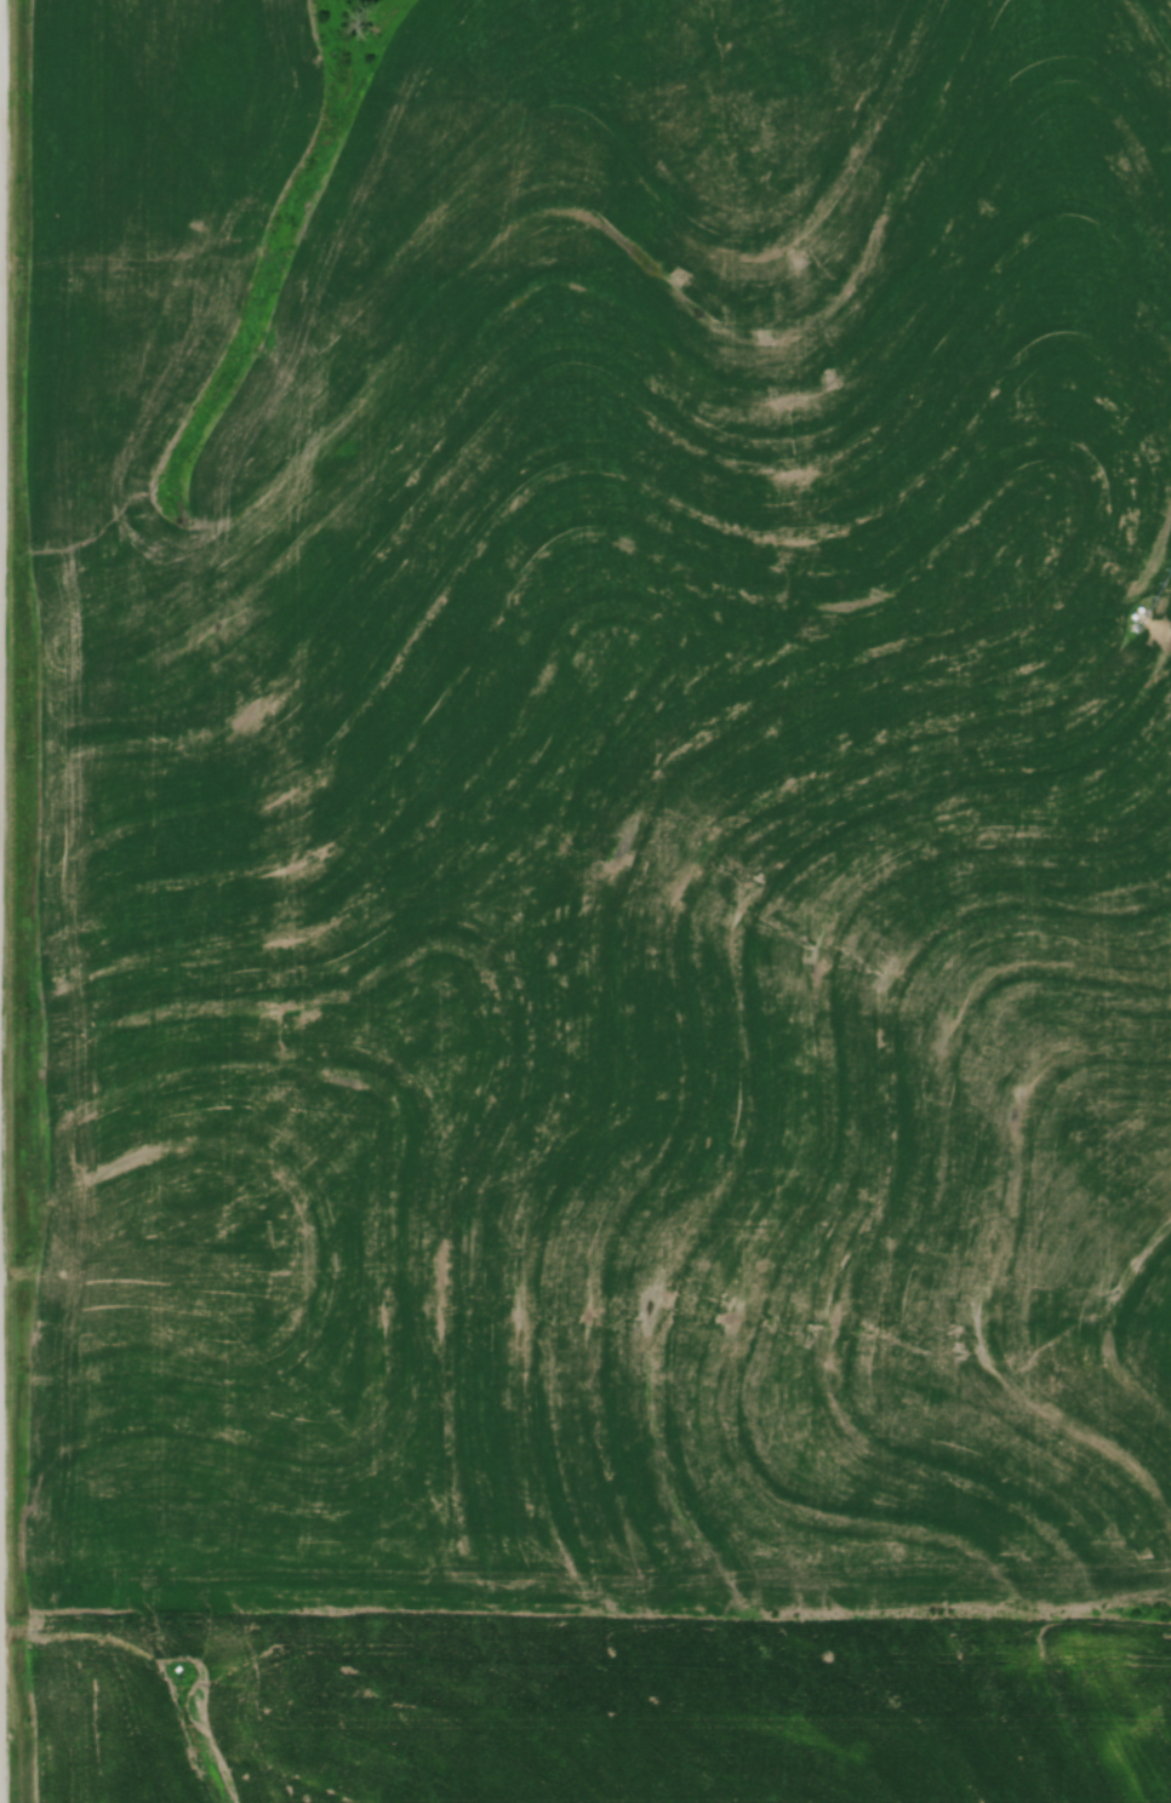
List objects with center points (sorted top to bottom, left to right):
road: (1, 108)
road: (0, 901)

